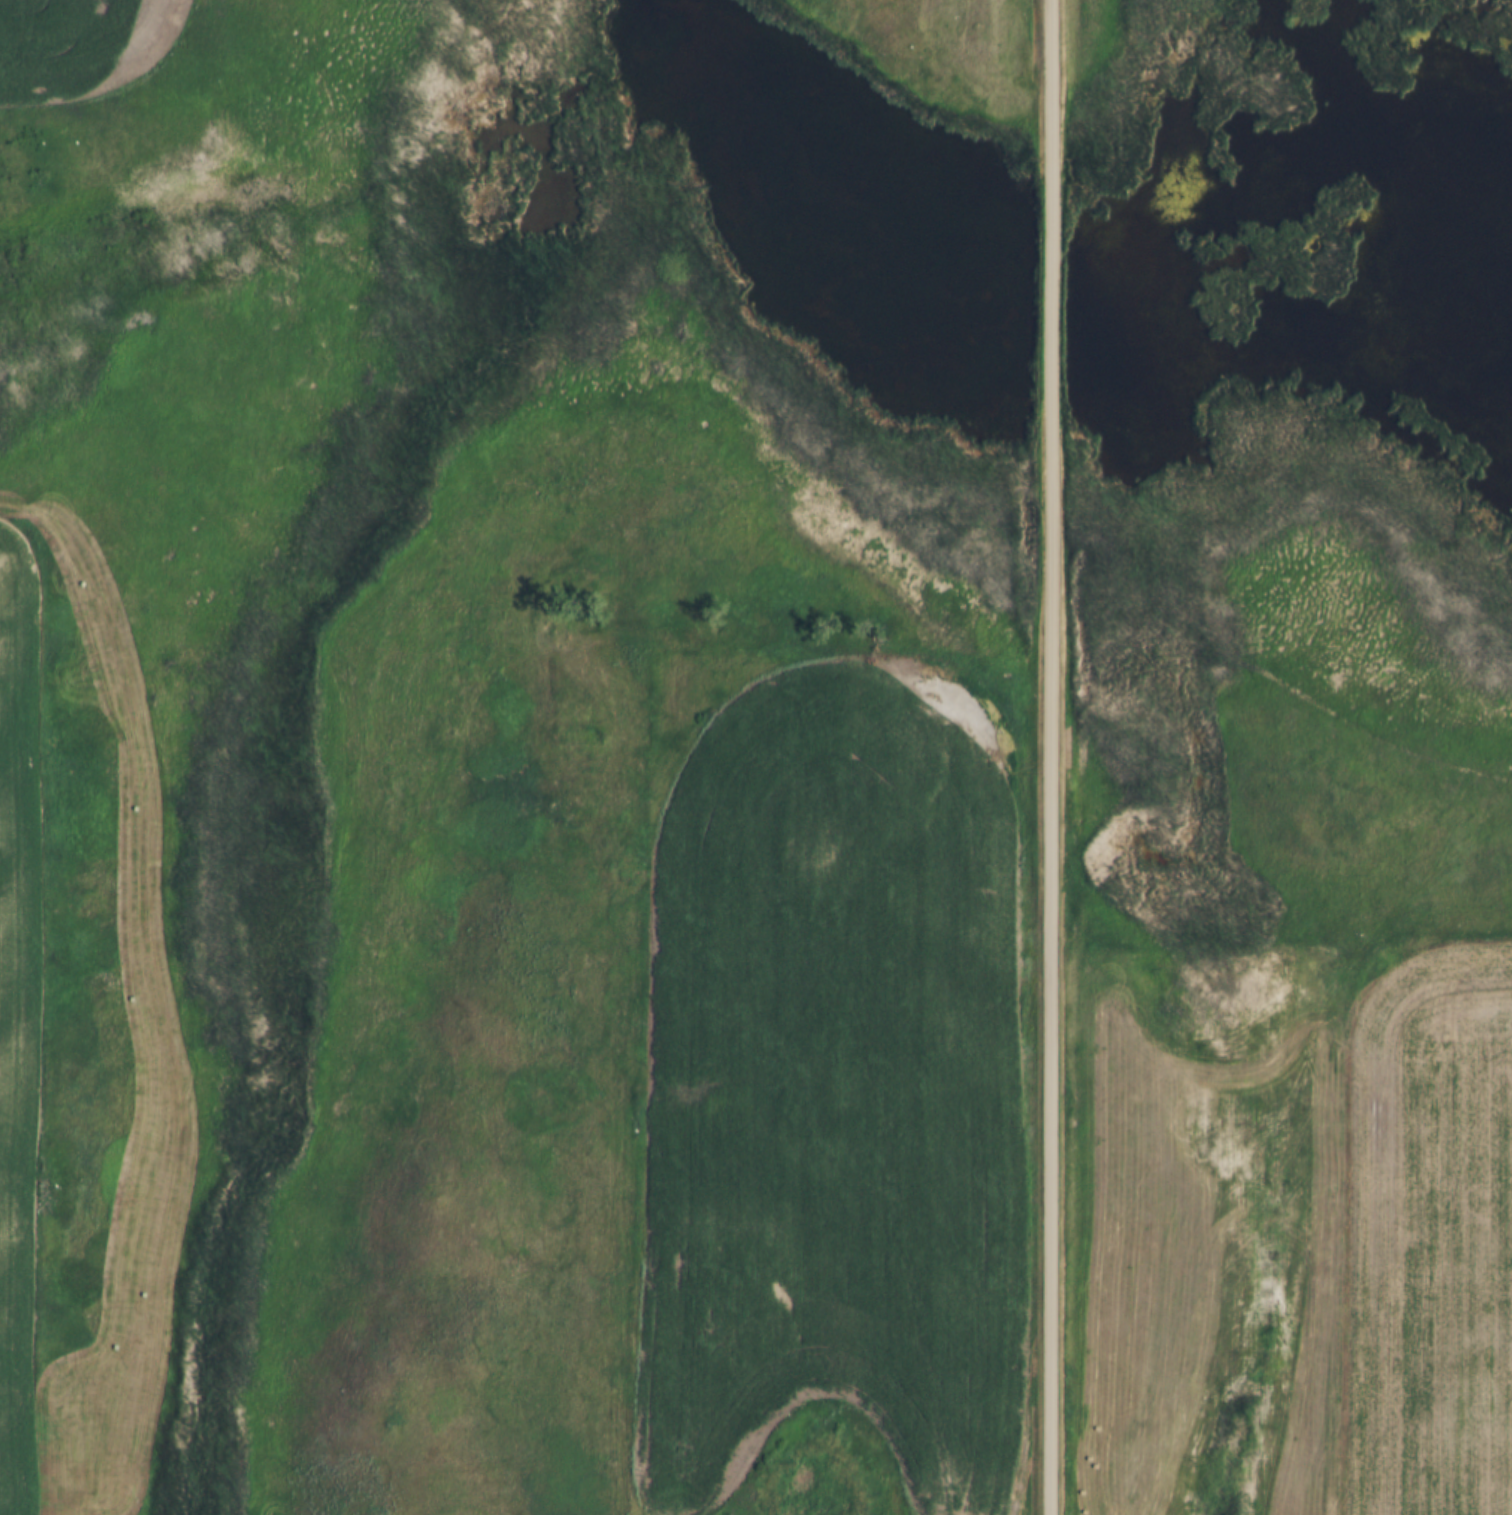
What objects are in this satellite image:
road: (1047, 757)

